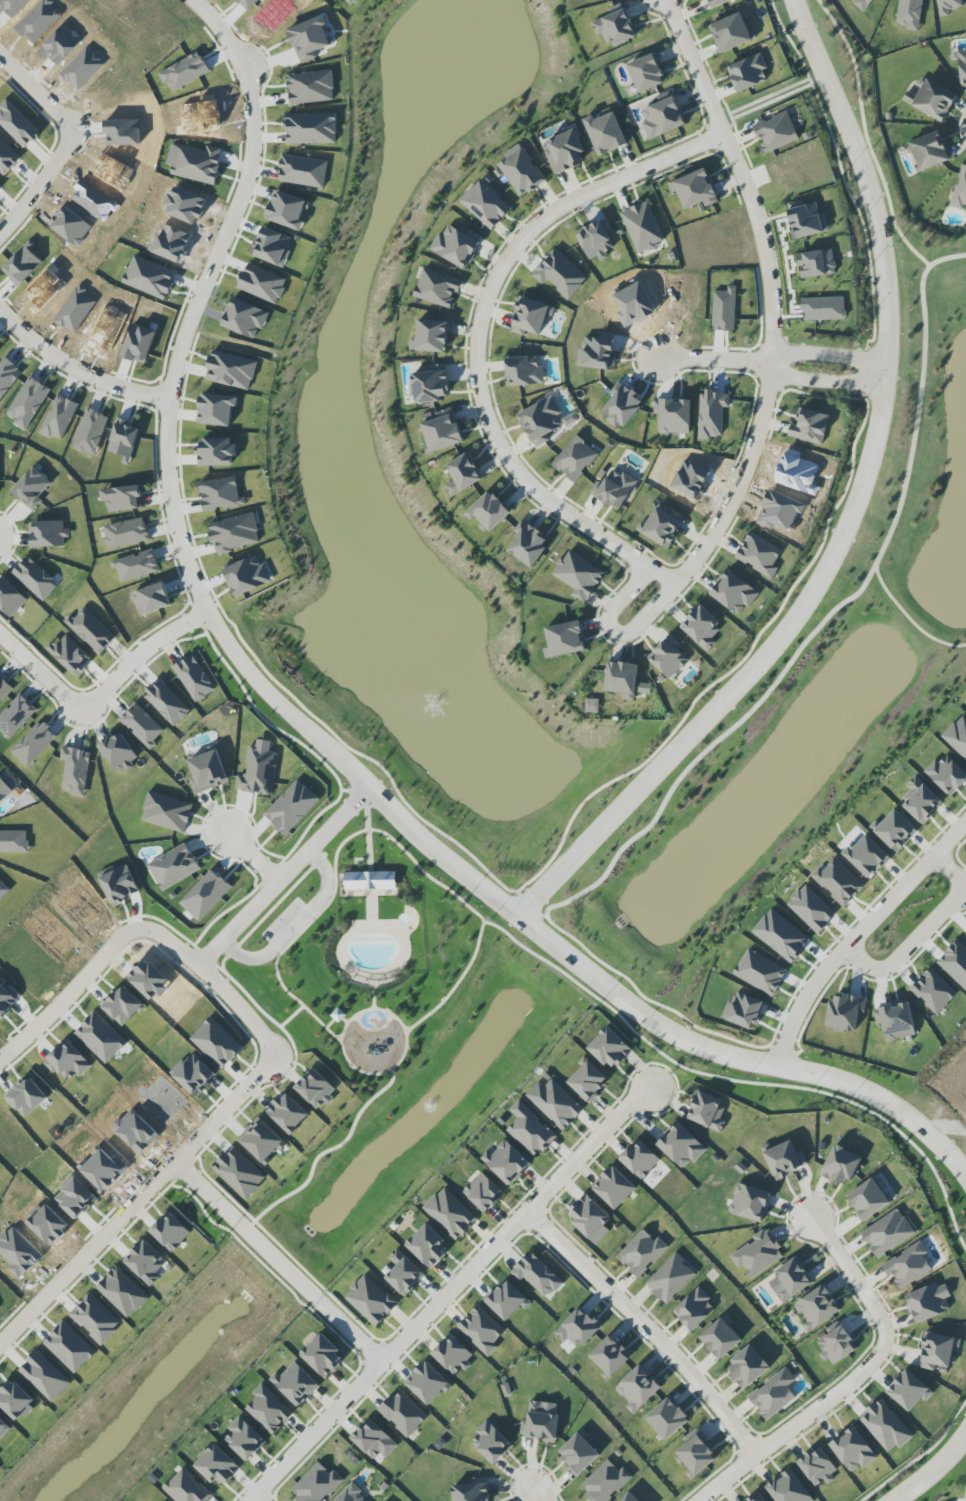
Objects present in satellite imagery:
building: (717, 2)
building: (862, 4)
building: (949, 6)
building: (909, 13)
building: (616, 26)
building: (731, 32)
building: (311, 38)
building: (962, 67)
building: (185, 72)
building: (647, 72)
building: (748, 73)
building: (311, 87)
building: (932, 100)
building: (662, 117)
building: (17, 124)
building: (311, 128)
building: (776, 132)
building: (605, 133)
road: (866, 136)
road: (71, 144)
building: (930, 150)
building: (564, 151)
building: (7, 157)
building: (197, 164)
building: (303, 171)
building: (521, 171)
building: (695, 189)
building: (960, 190)
road: (244, 198)
building: (485, 204)
building: (807, 221)
building: (643, 227)
building: (596, 239)
building: (456, 245)
building: (816, 263)
building: (24, 264)
building: (560, 274)
building: (437, 288)
building: (724, 310)
building: (531, 316)
building: (245, 318)
building: (430, 336)
road: (477, 337)
road: (827, 358)
road: (712, 361)
building: (231, 370)
building: (524, 371)
road: (769, 374)
building: (8, 376)
building: (430, 384)
road: (823, 384)
building: (28, 402)
building: (217, 408)
road: (919, 408)
road: (168, 411)
building: (712, 414)
building: (673, 416)
building: (59, 418)
building: (541, 421)
building: (810, 427)
building: (442, 431)
building: (91, 432)
building: (123, 440)
building: (216, 452)
building: (575, 459)
building: (463, 474)
building: (32, 488)
building: (615, 489)
building: (220, 494)
building: (122, 498)
building: (490, 511)
road: (854, 511)
building: (663, 526)
building: (126, 533)
building: (234, 533)
building: (528, 545)
building: (759, 555)
building: (136, 566)
building: (578, 575)
building: (247, 576)
building: (35, 579)
building: (734, 592)
building: (10, 598)
building: (151, 599)
road: (909, 619)
building: (702, 627)
building: (91, 630)
building: (70, 655)
building: (668, 658)
building: (193, 679)
building: (622, 679)
building: (4, 689)
building: (167, 703)
park: (810, 704)
building: (15, 717)
building: (142, 725)
building: (957, 736)
building: (34, 743)
building: (119, 753)
building: (75, 770)
building: (259, 771)
building: (207, 772)
building: (946, 774)
road: (371, 789)
building: (3, 792)
building: (921, 800)
building: (167, 812)
road: (373, 830)
building: (896, 831)
road: (368, 833)
building: (13, 842)
road: (619, 853)
building: (867, 856)
road: (254, 857)
building: (174, 867)
building: (370, 880)
building: (839, 882)
building: (3, 890)
road: (306, 908)
parking lot: (285, 923)
road: (296, 926)
road: (920, 933)
road: (858, 937)
park: (370, 958)
building: (934, 991)
road: (373, 1002)
building: (124, 1006)
building: (845, 1012)
road: (336, 1017)
road: (647, 1021)
building: (895, 1021)
building: (609, 1048)
road: (401, 1060)
building: (68, 1061)
building: (588, 1081)
building: (315, 1089)
building: (27, 1097)
building: (555, 1103)
fountain: (430, 1107)
building: (707, 1111)
building: (288, 1113)
building: (530, 1130)
road: (204, 1140)
building: (261, 1140)
building: (681, 1146)
road: (322, 1153)
building: (640, 1159)
building: (785, 1160)
building: (506, 1162)
building: (840, 1166)
building: (240, 1173)
building: (614, 1187)
building: (483, 1192)
building: (868, 1199)
building: (750, 1202)
building: (450, 1213)
building: (589, 1217)
building: (171, 1232)
building: (888, 1233)
building: (427, 1246)
building: (641, 1253)
building: (759, 1254)
road: (86, 1257)
building: (145, 1262)
building: (908, 1265)
building: (403, 1273)
building: (537, 1275)
building: (671, 1278)
building: (792, 1279)
road: (852, 1280)
building: (123, 1292)
road: (450, 1294)
building: (370, 1300)
building: (507, 1301)
building: (928, 1302)
building: (816, 1308)
building: (694, 1309)
building: (96, 1319)
building: (578, 1328)
building: (482, 1330)
road: (347, 1331)
road: (646, 1331)
building: (721, 1337)
building: (837, 1345)
building: (453, 1355)
building: (323, 1356)
building: (610, 1357)
building: (748, 1367)
building: (45, 1376)
building: (296, 1383)
building: (427, 1383)
building: (638, 1389)
building: (909, 1390)
building: (774, 1394)
building: (268, 1409)
building: (403, 1413)
building: (667, 1418)
building: (539, 1424)
building: (2, 1426)
road: (798, 1426)
building: (885, 1426)
building: (244, 1439)
building: (374, 1440)
building: (490, 1443)
building: (853, 1450)
building: (579, 1453)
building: (695, 1456)
building: (217, 1465)
building: (818, 1467)
road: (934, 1472)
building: (606, 1482)
building: (317, 1484)
building: (186, 1488)
building: (788, 1488)
building: (471, 1492)
building: (350, 1495)
road: (536, 1496)
building: (629, 1497)
building: (757, 1498)

